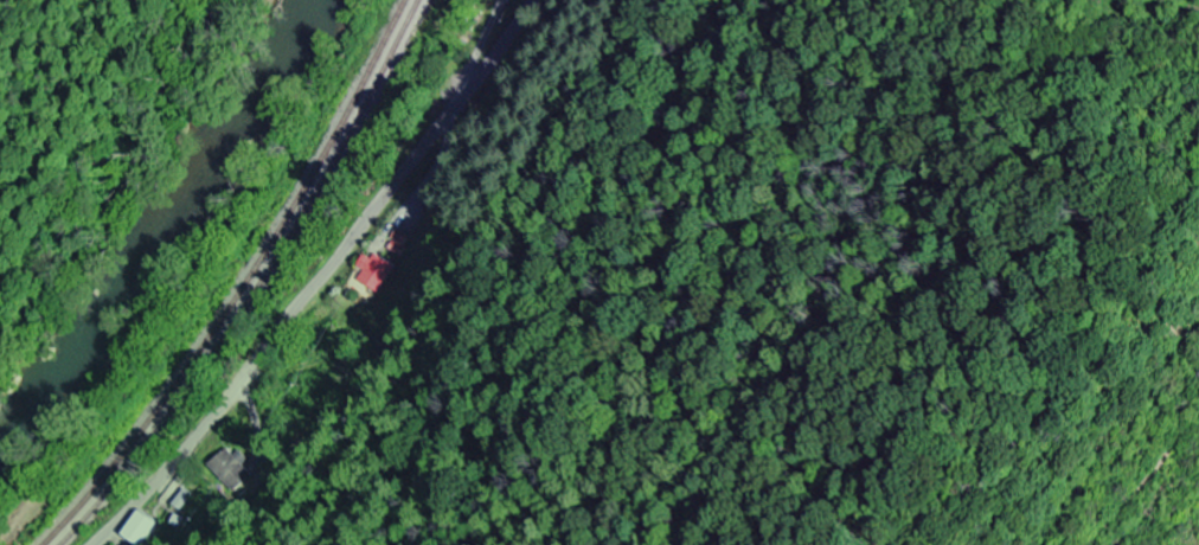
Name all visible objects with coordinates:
railway: (316, 163)
railway: (328, 167)
river: (171, 238)
building: (377, 272)
road: (319, 277)
railway: (132, 434)
railway: (147, 438)
building: (225, 464)

